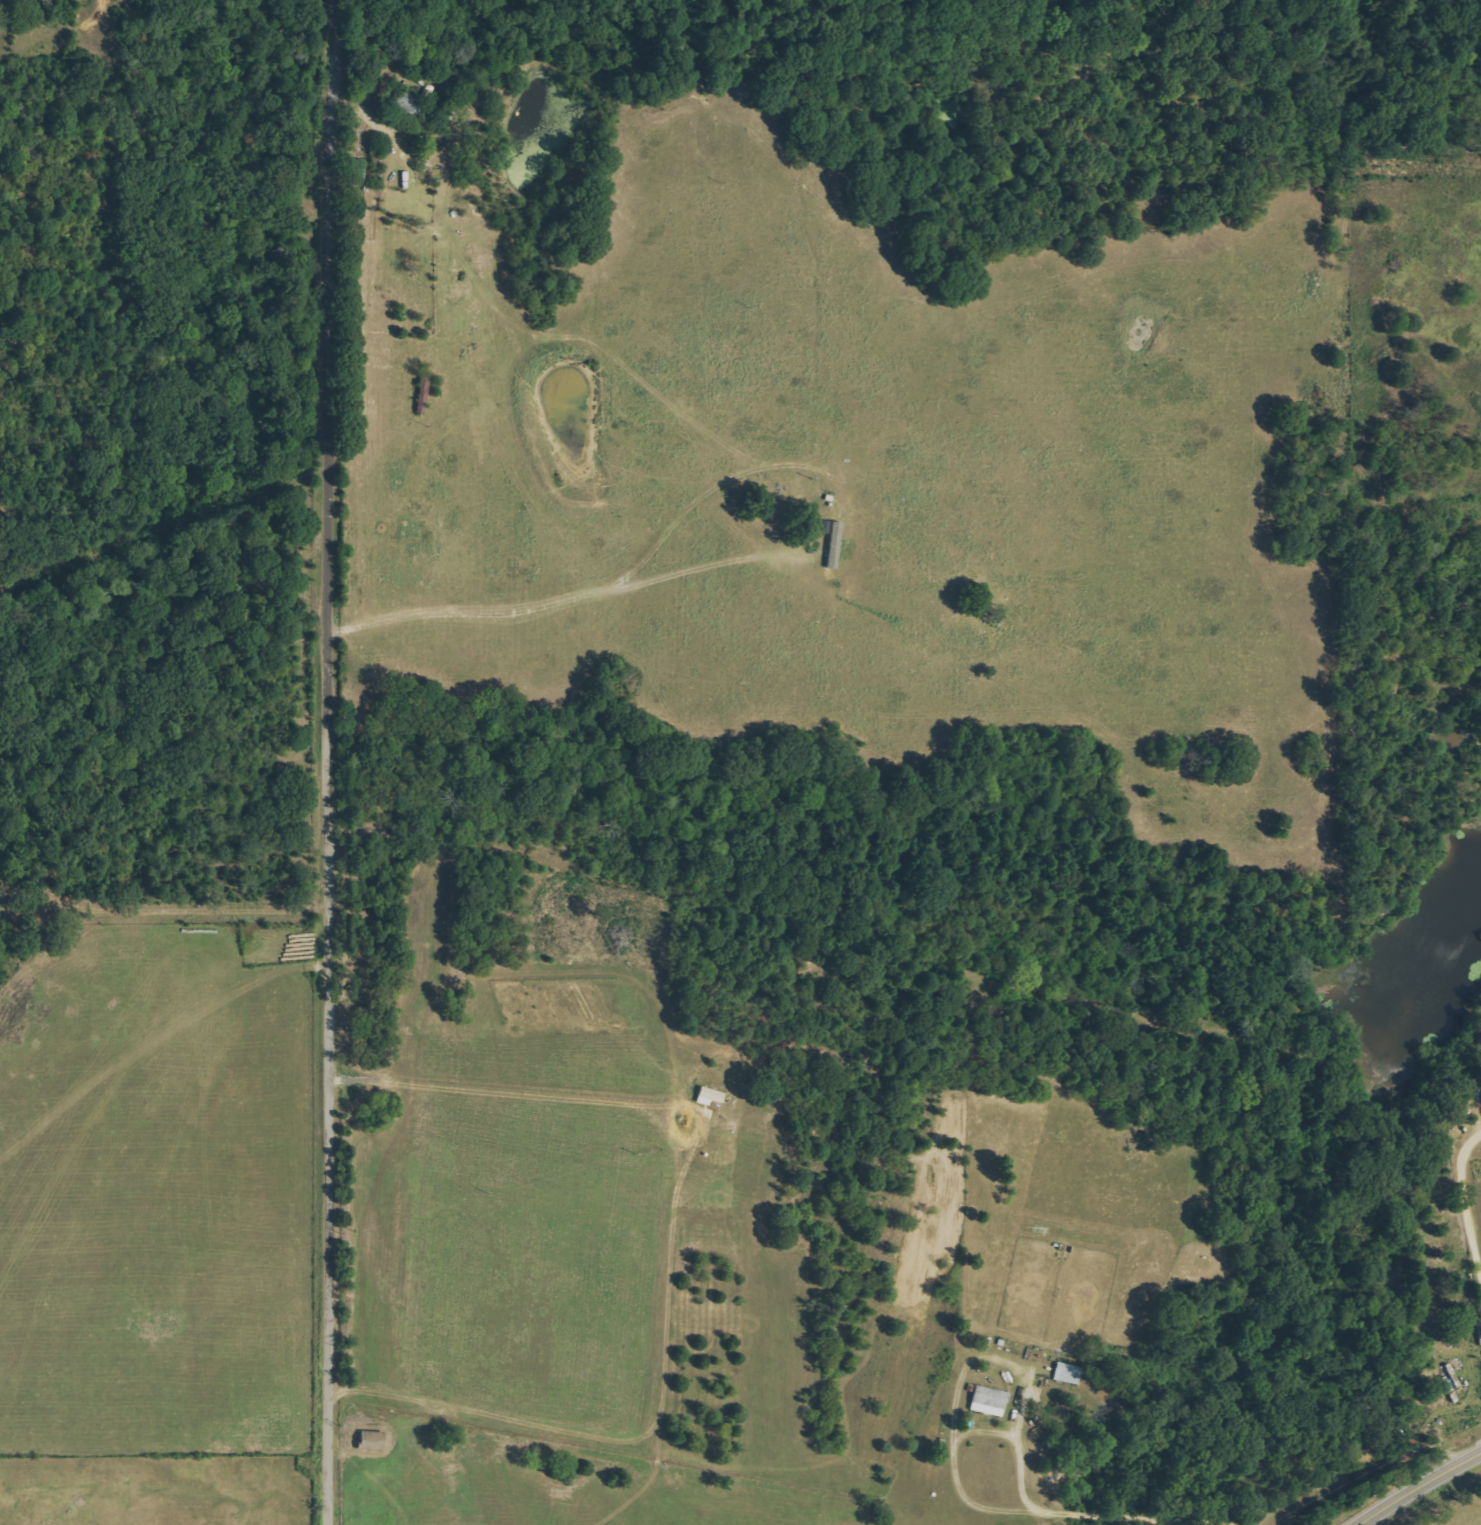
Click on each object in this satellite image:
building: (414, 106)
building: (834, 541)
road: (333, 760)
road: (166, 911)
road: (1110, 1056)
building: (714, 1096)
road: (1463, 1197)
road: (789, 1295)
road: (990, 1359)
building: (1071, 1373)
building: (993, 1400)
road: (965, 1438)
building: (377, 1440)
road: (1420, 1485)
road: (1140, 1518)

